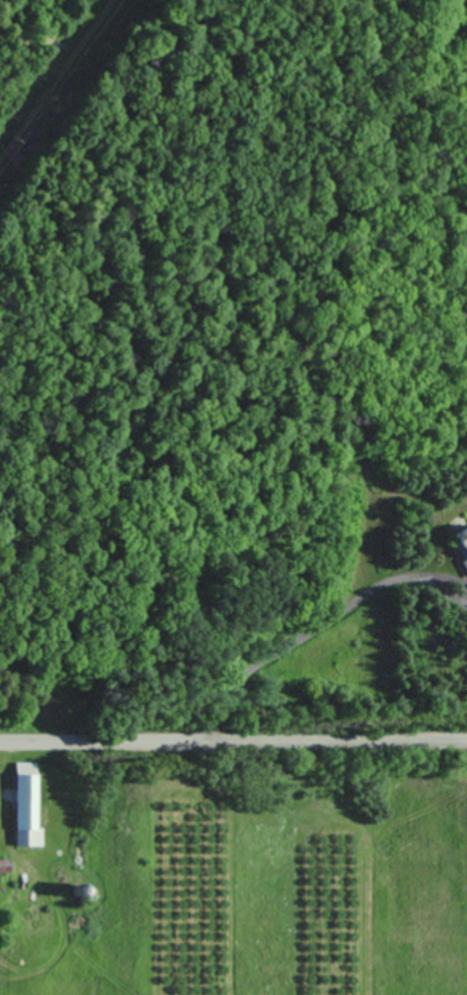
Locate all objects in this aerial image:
power tower: (14, 141)
building: (460, 546)
road: (319, 625)
road: (233, 741)
building: (30, 805)

